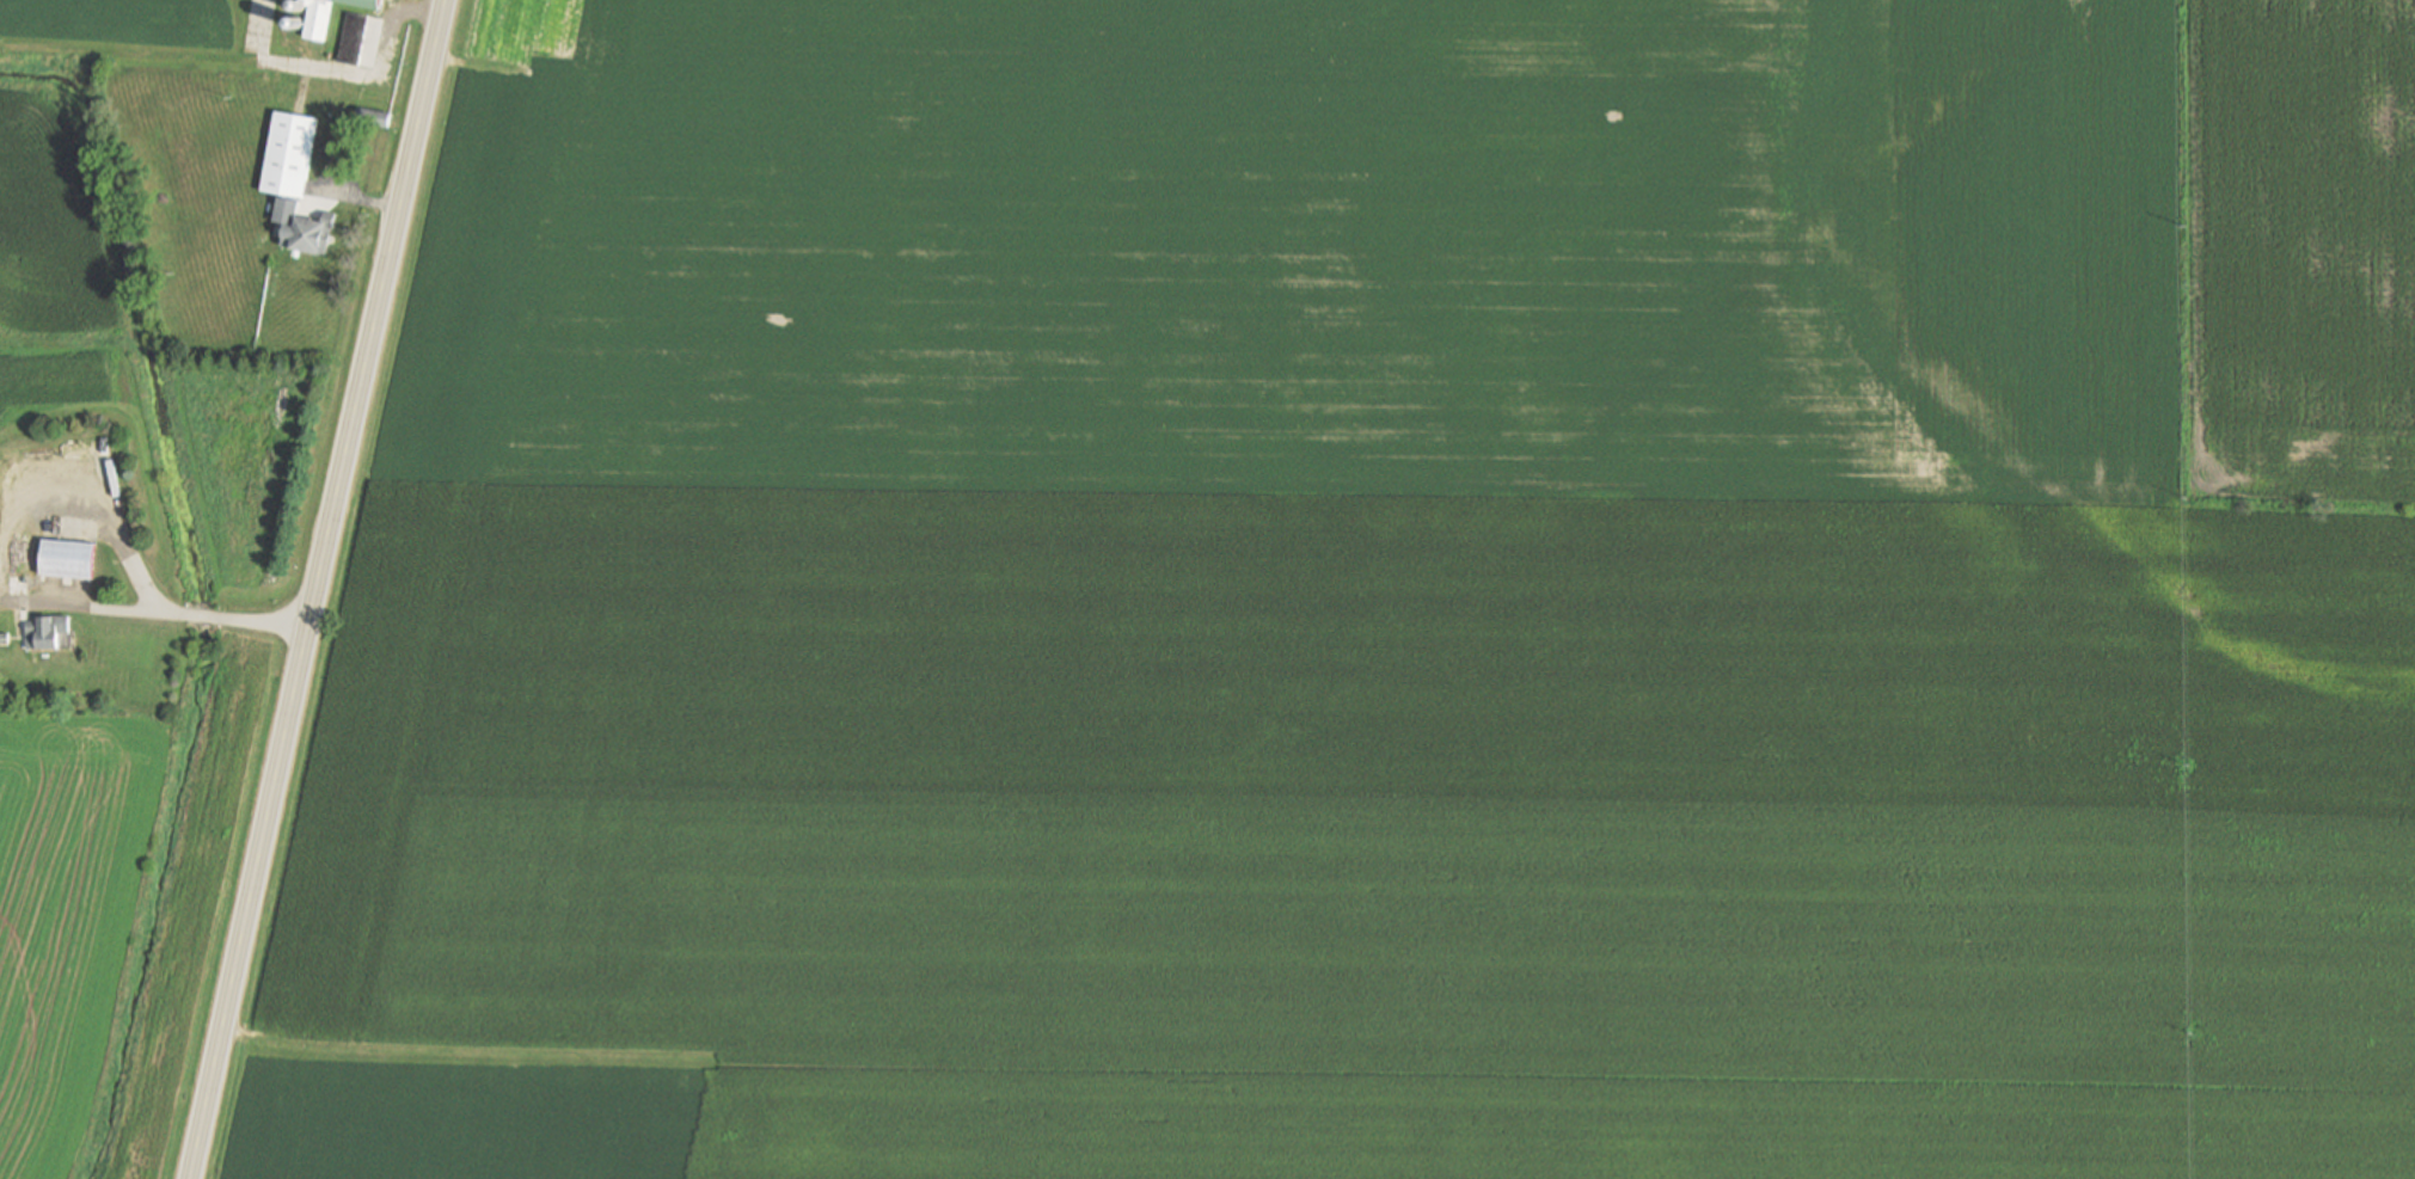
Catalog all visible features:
building: (317, 24)
building: (354, 38)
building: (373, 117)
building: (289, 154)
building: (314, 233)
crop: (2304, 246)
building: (68, 558)
road: (318, 589)
road: (0, 591)
crop: (1354, 604)
building: (49, 633)
building: (5, 637)
building: (246, 876)
crop: (470, 1123)

